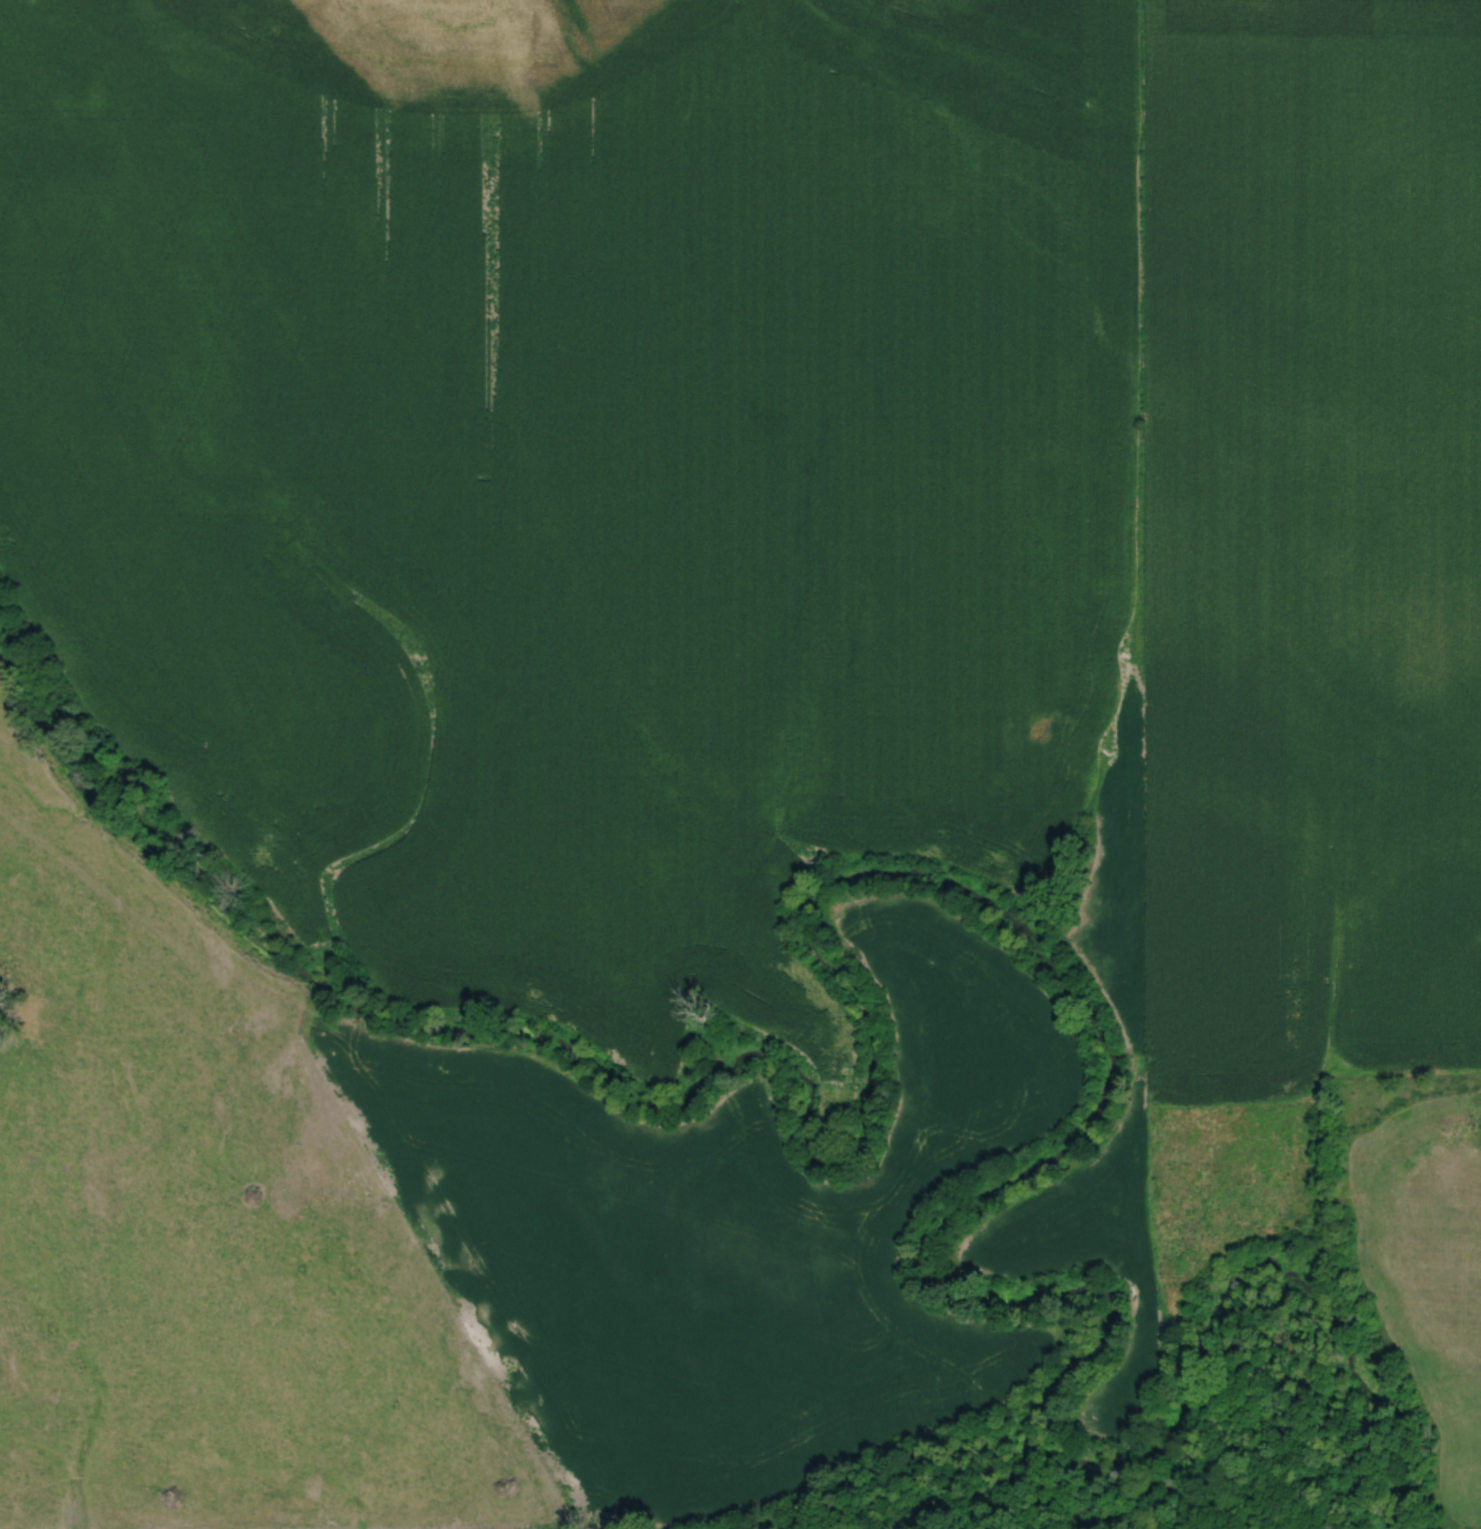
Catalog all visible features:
river: (977, 904)

